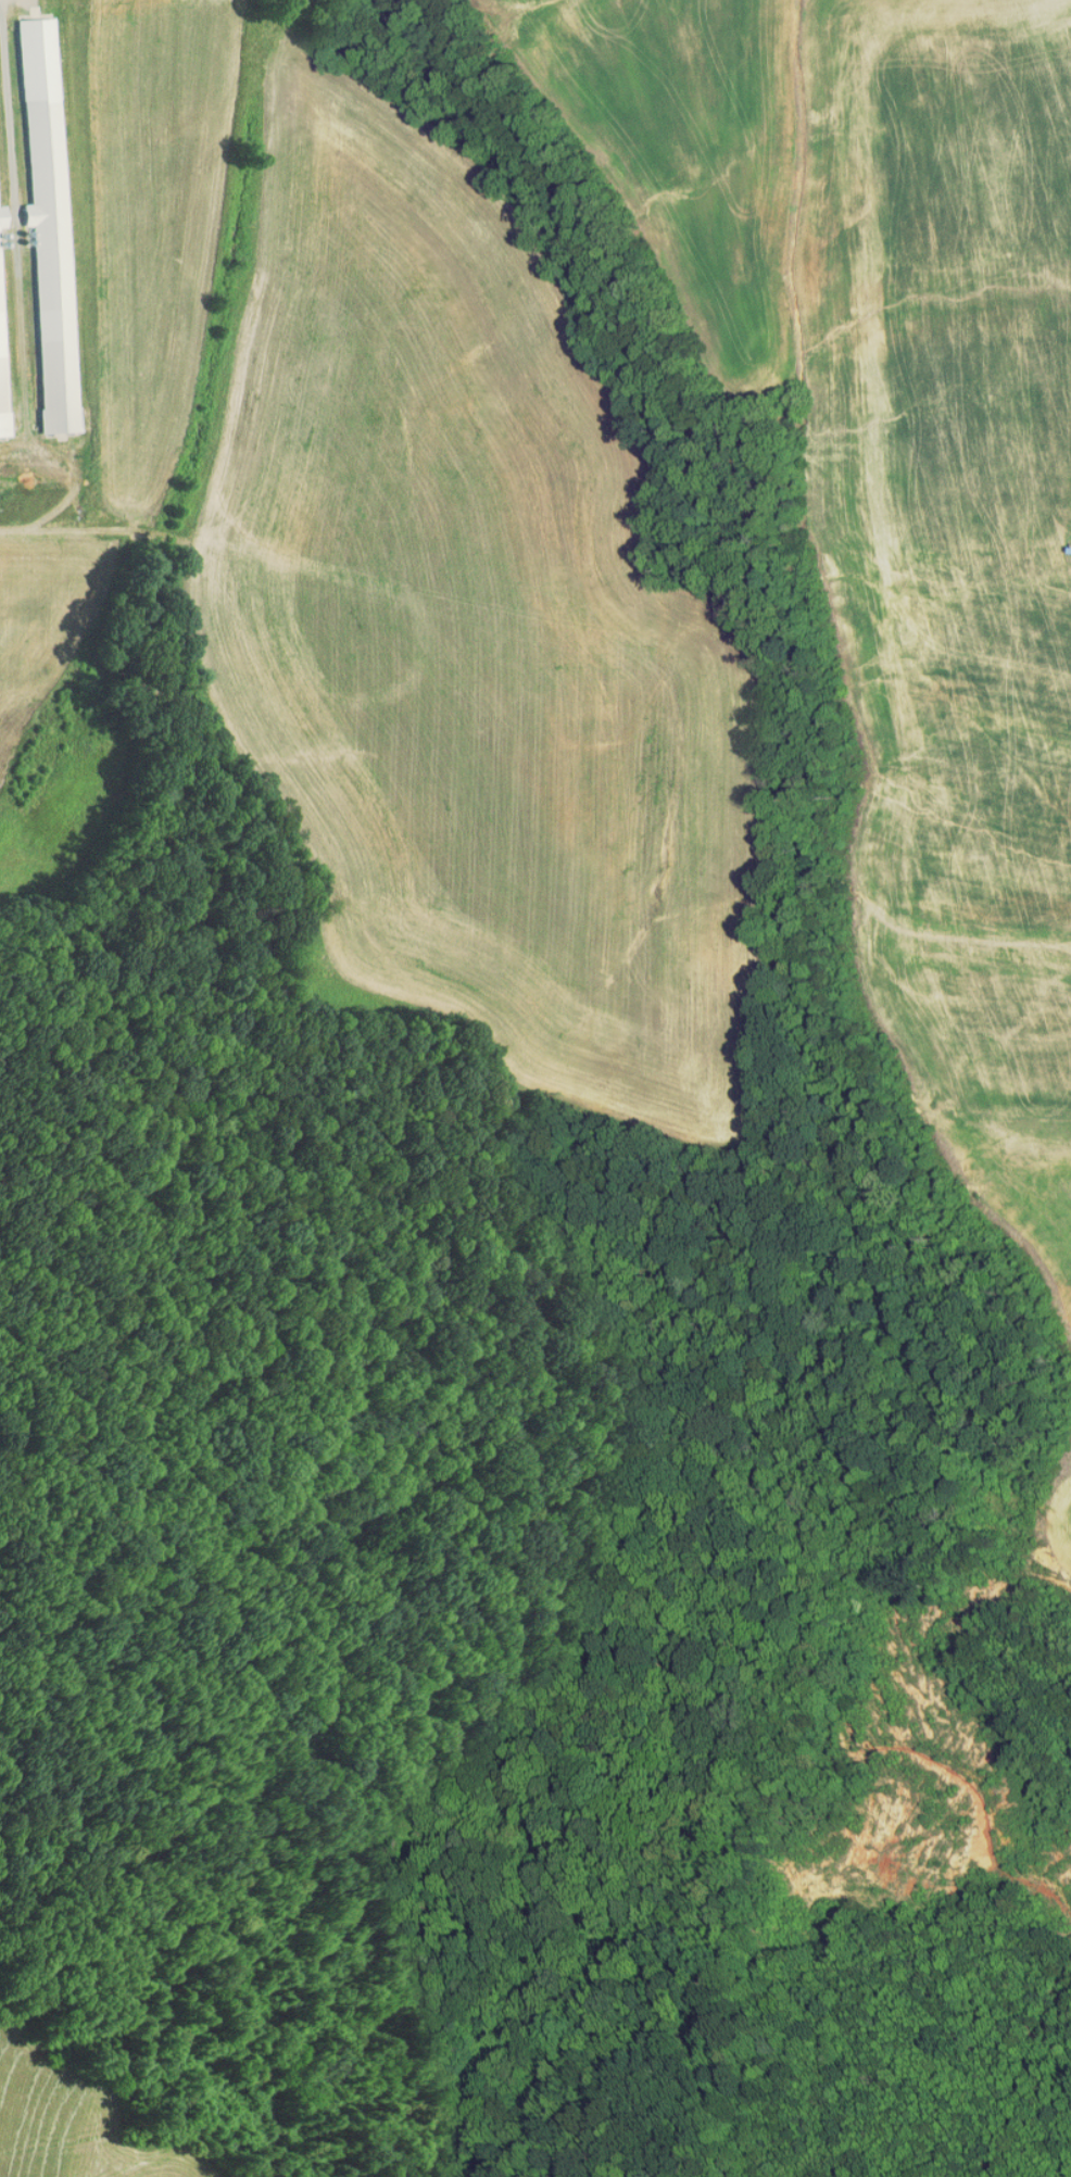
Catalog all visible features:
building: (37, 215)
building: (1, 410)

